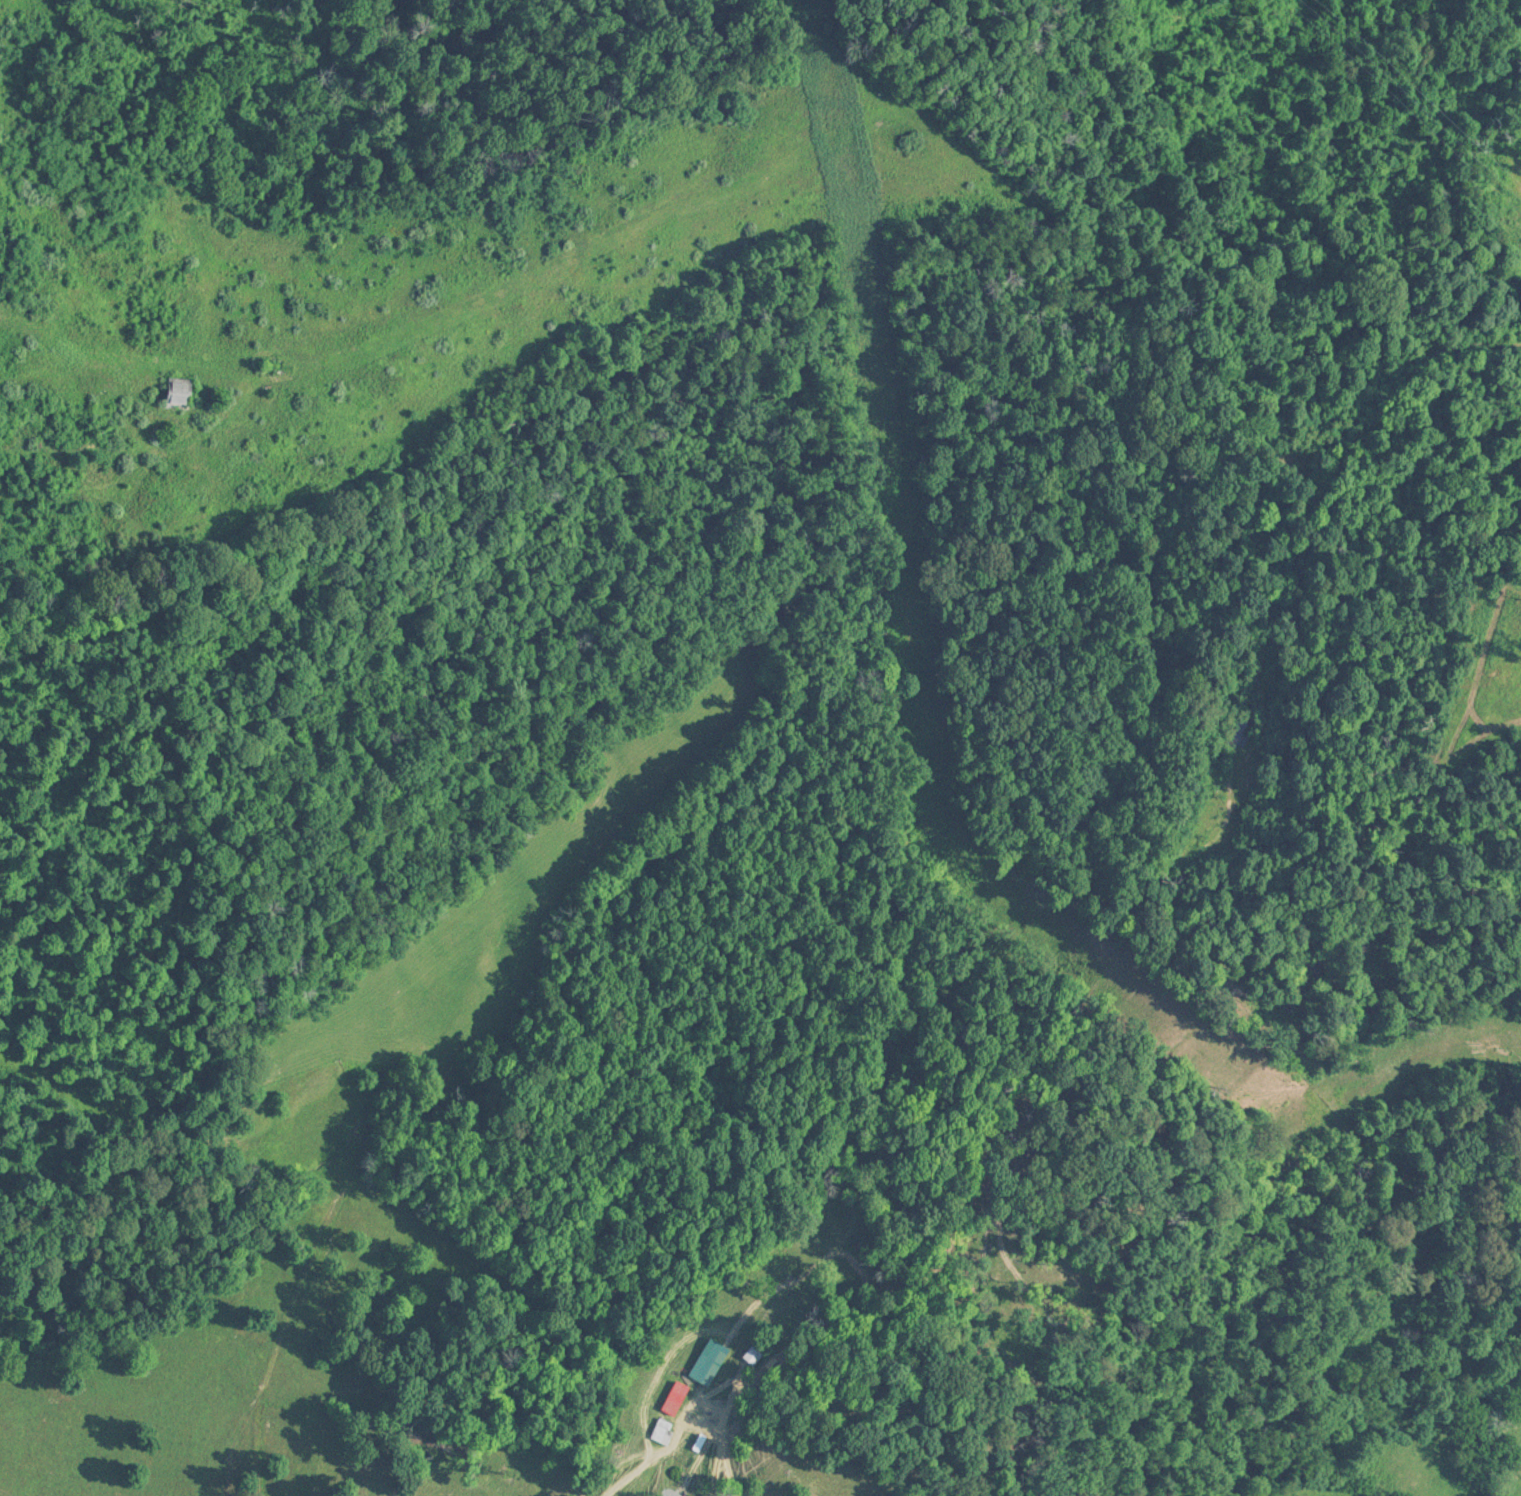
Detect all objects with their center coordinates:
building: (180, 397)
building: (662, 1434)
road: (680, 1466)

